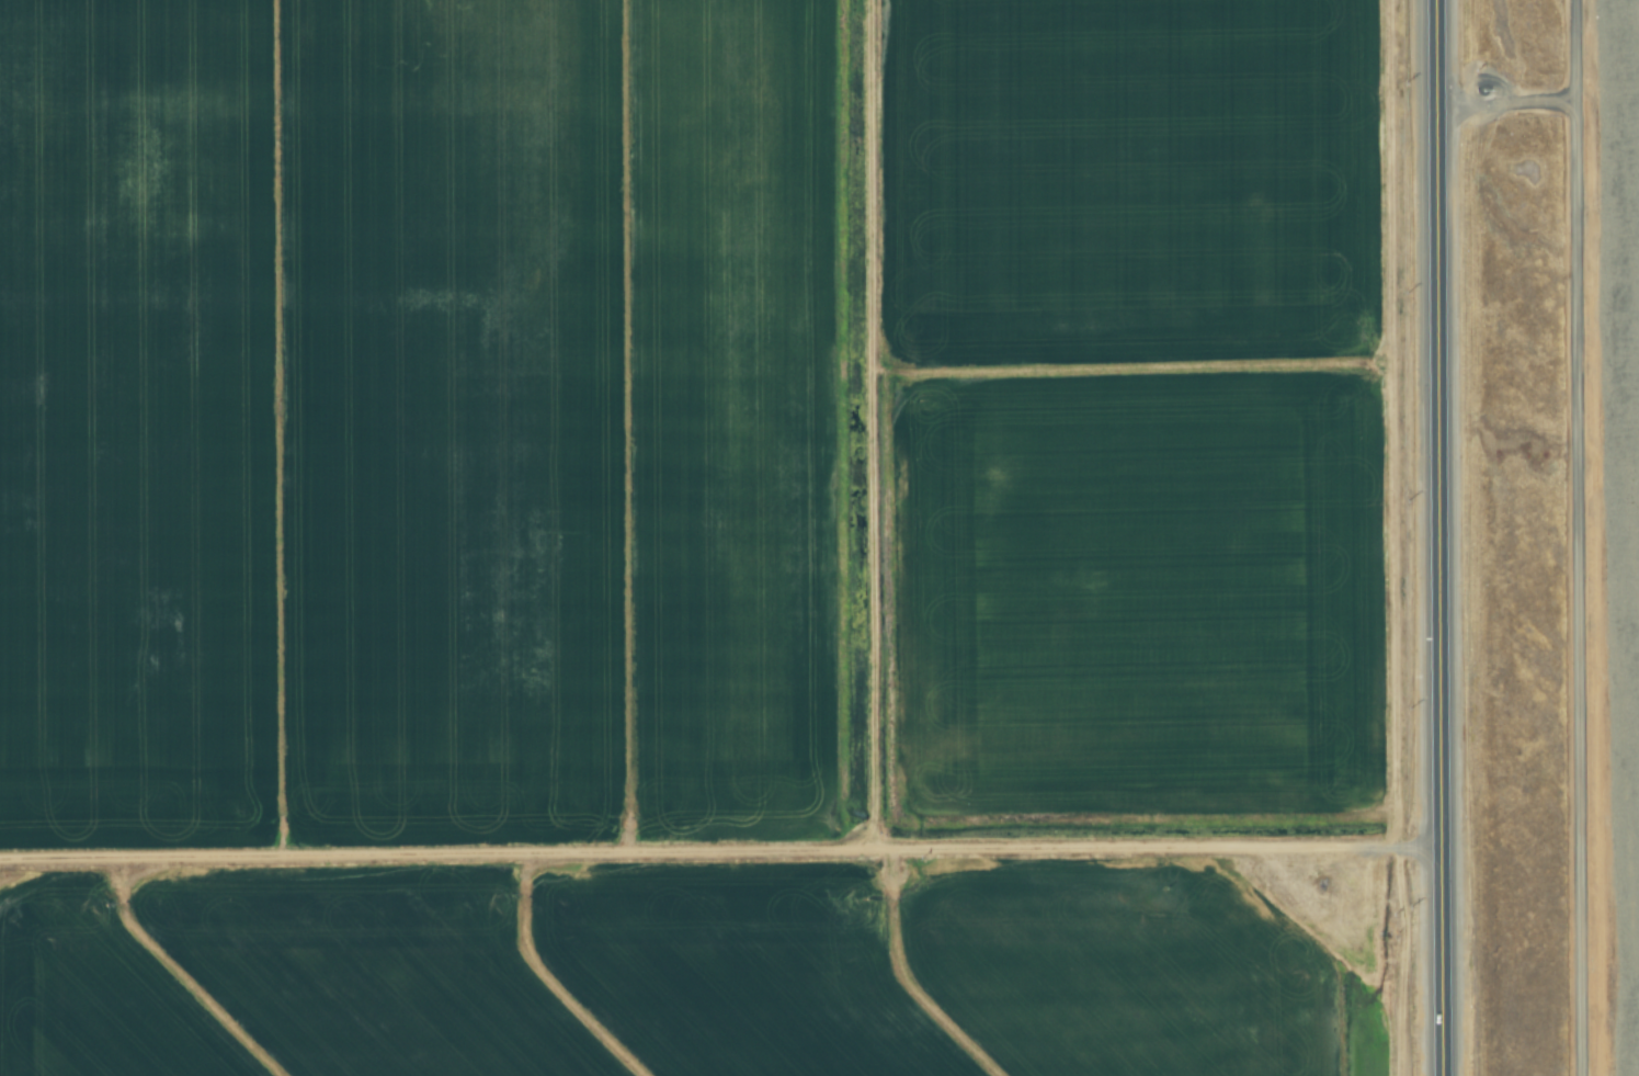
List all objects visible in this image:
road: (1571, 48)
road: (1578, 522)
road: (1445, 537)

